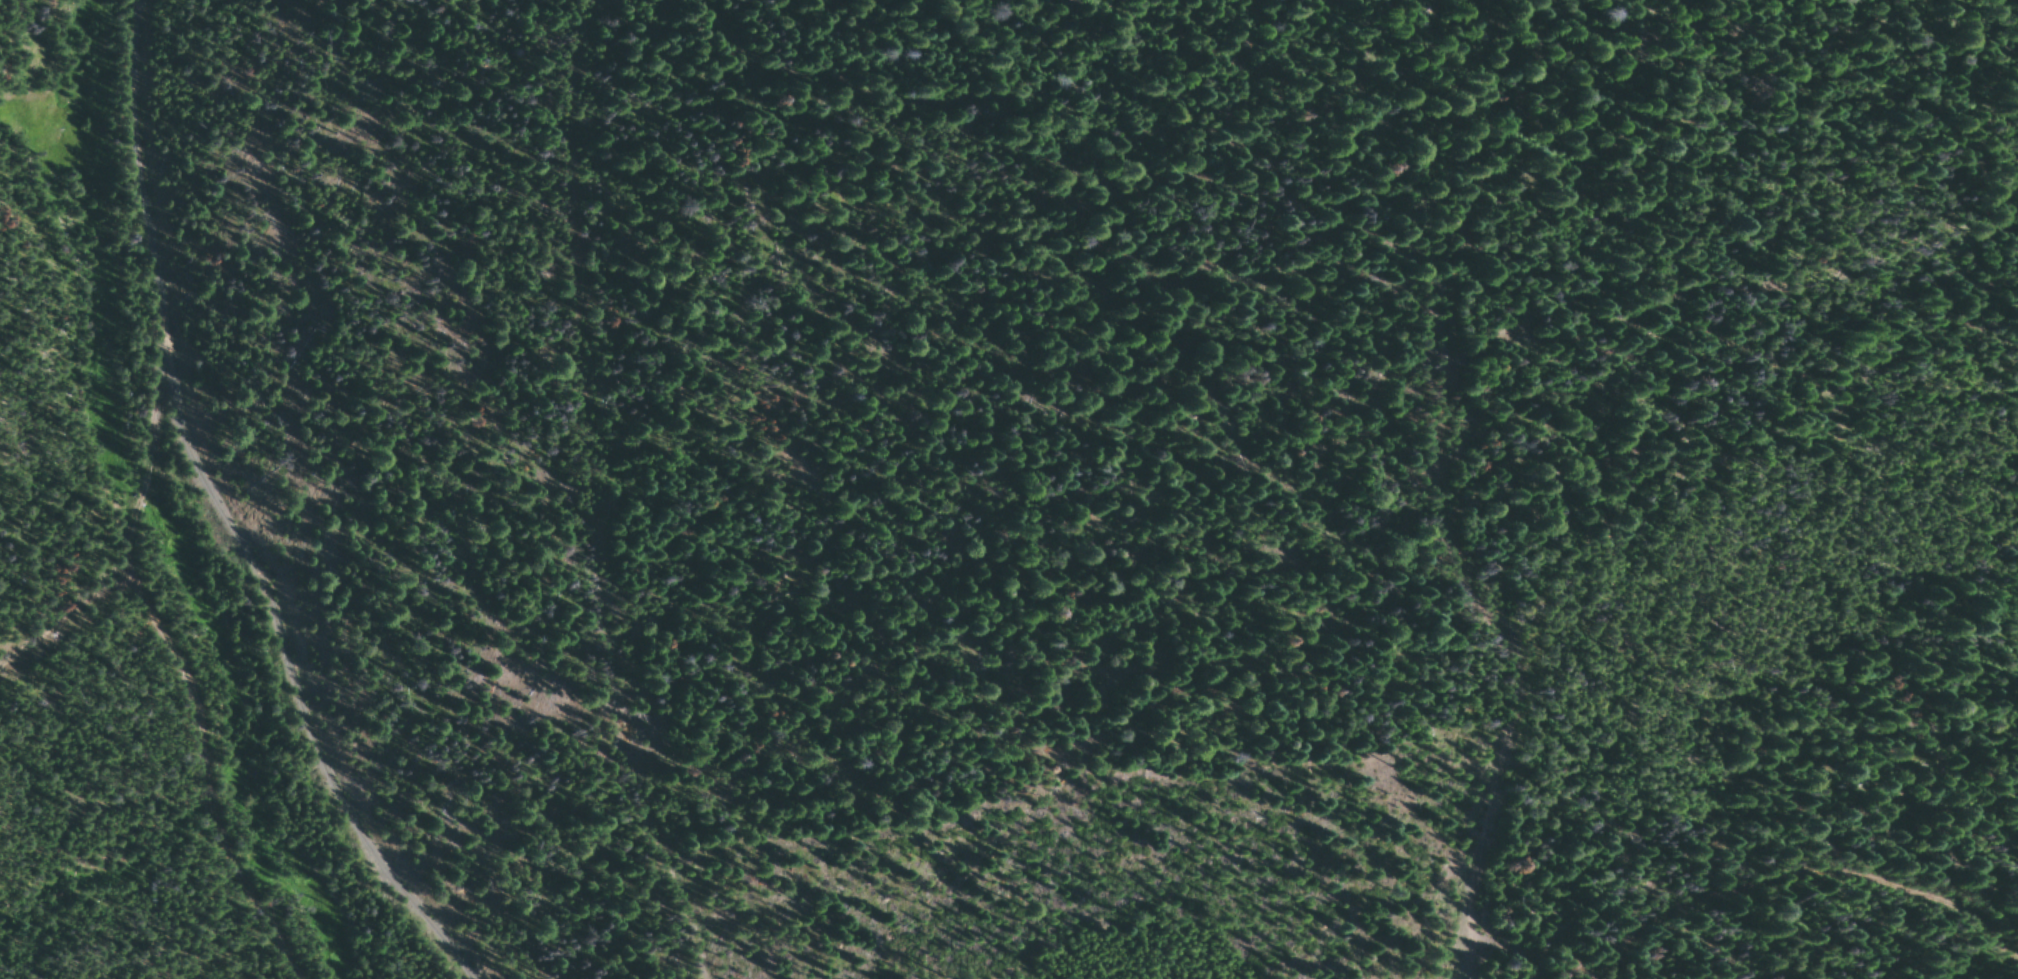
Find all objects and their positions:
road: (1775, 859)

